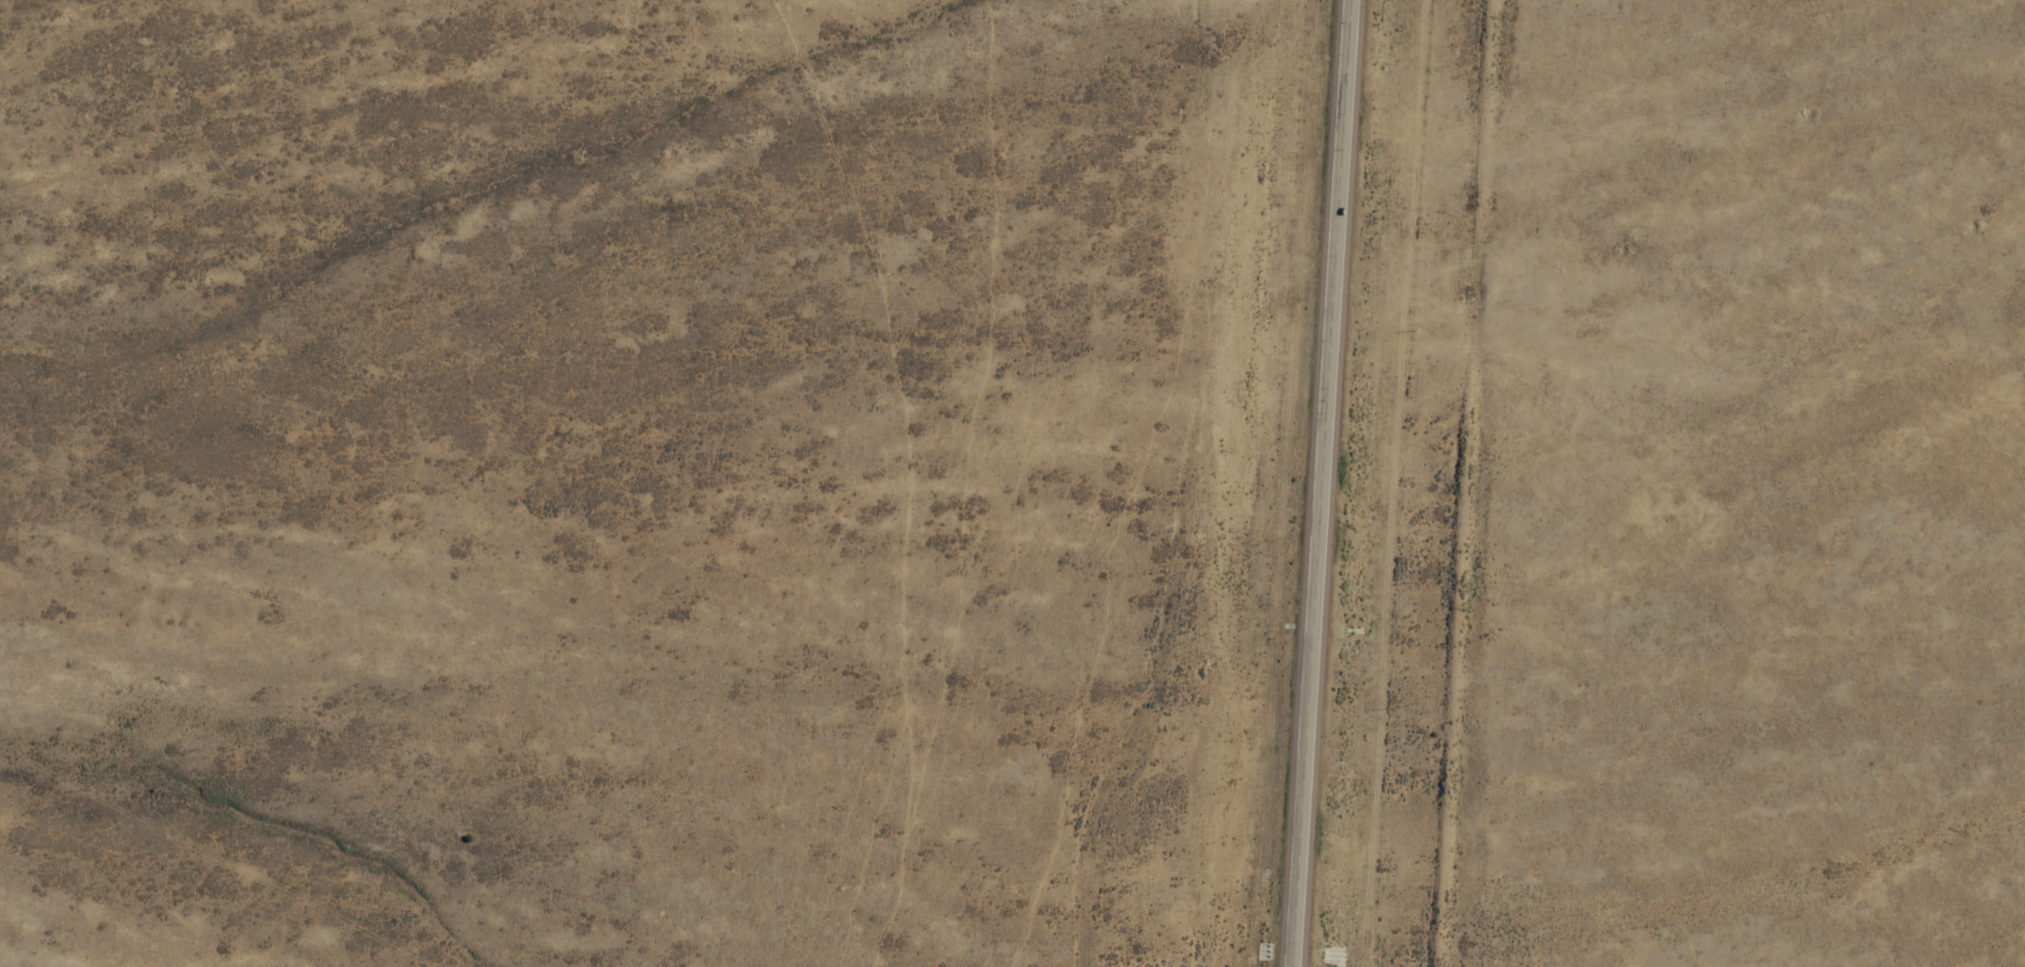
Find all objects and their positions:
road: (1322, 483)

